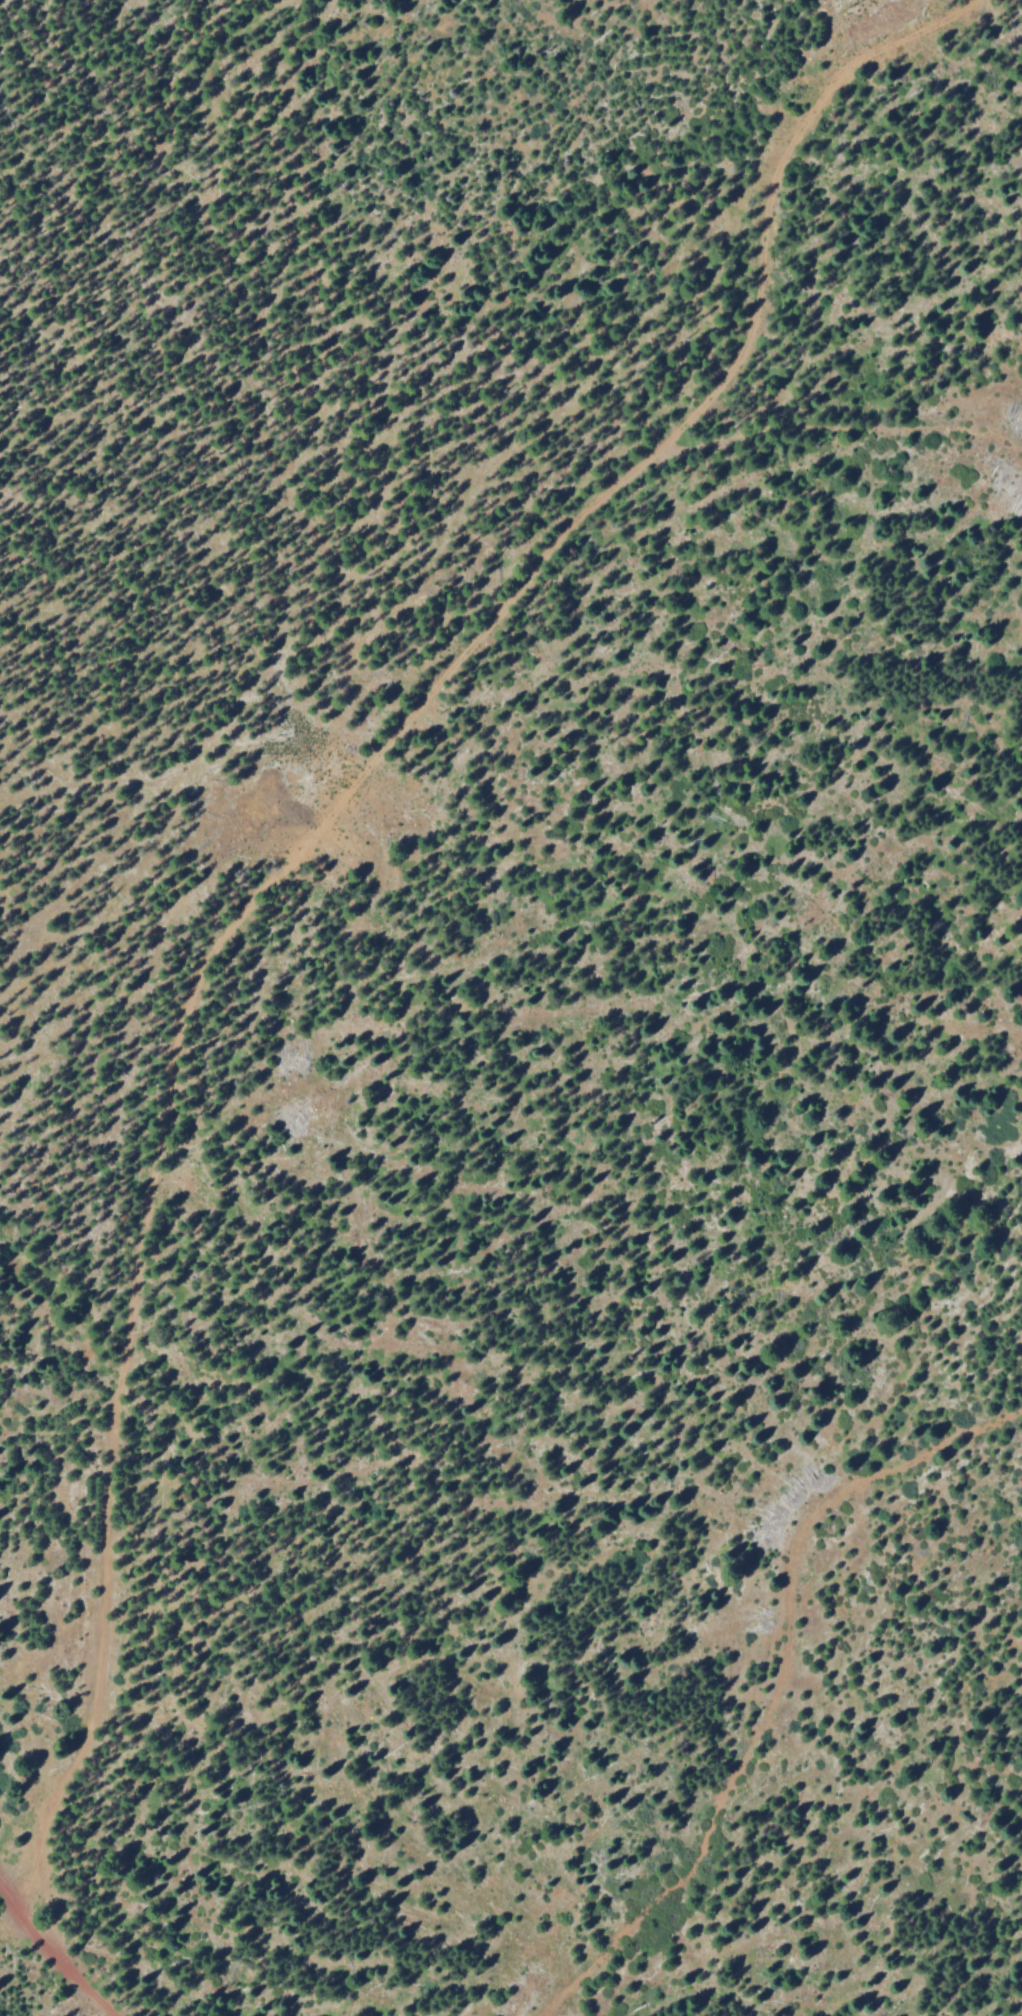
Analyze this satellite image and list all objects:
road: (837, 427)
road: (467, 647)
road: (105, 1661)
road: (774, 1684)
road: (54, 1955)

